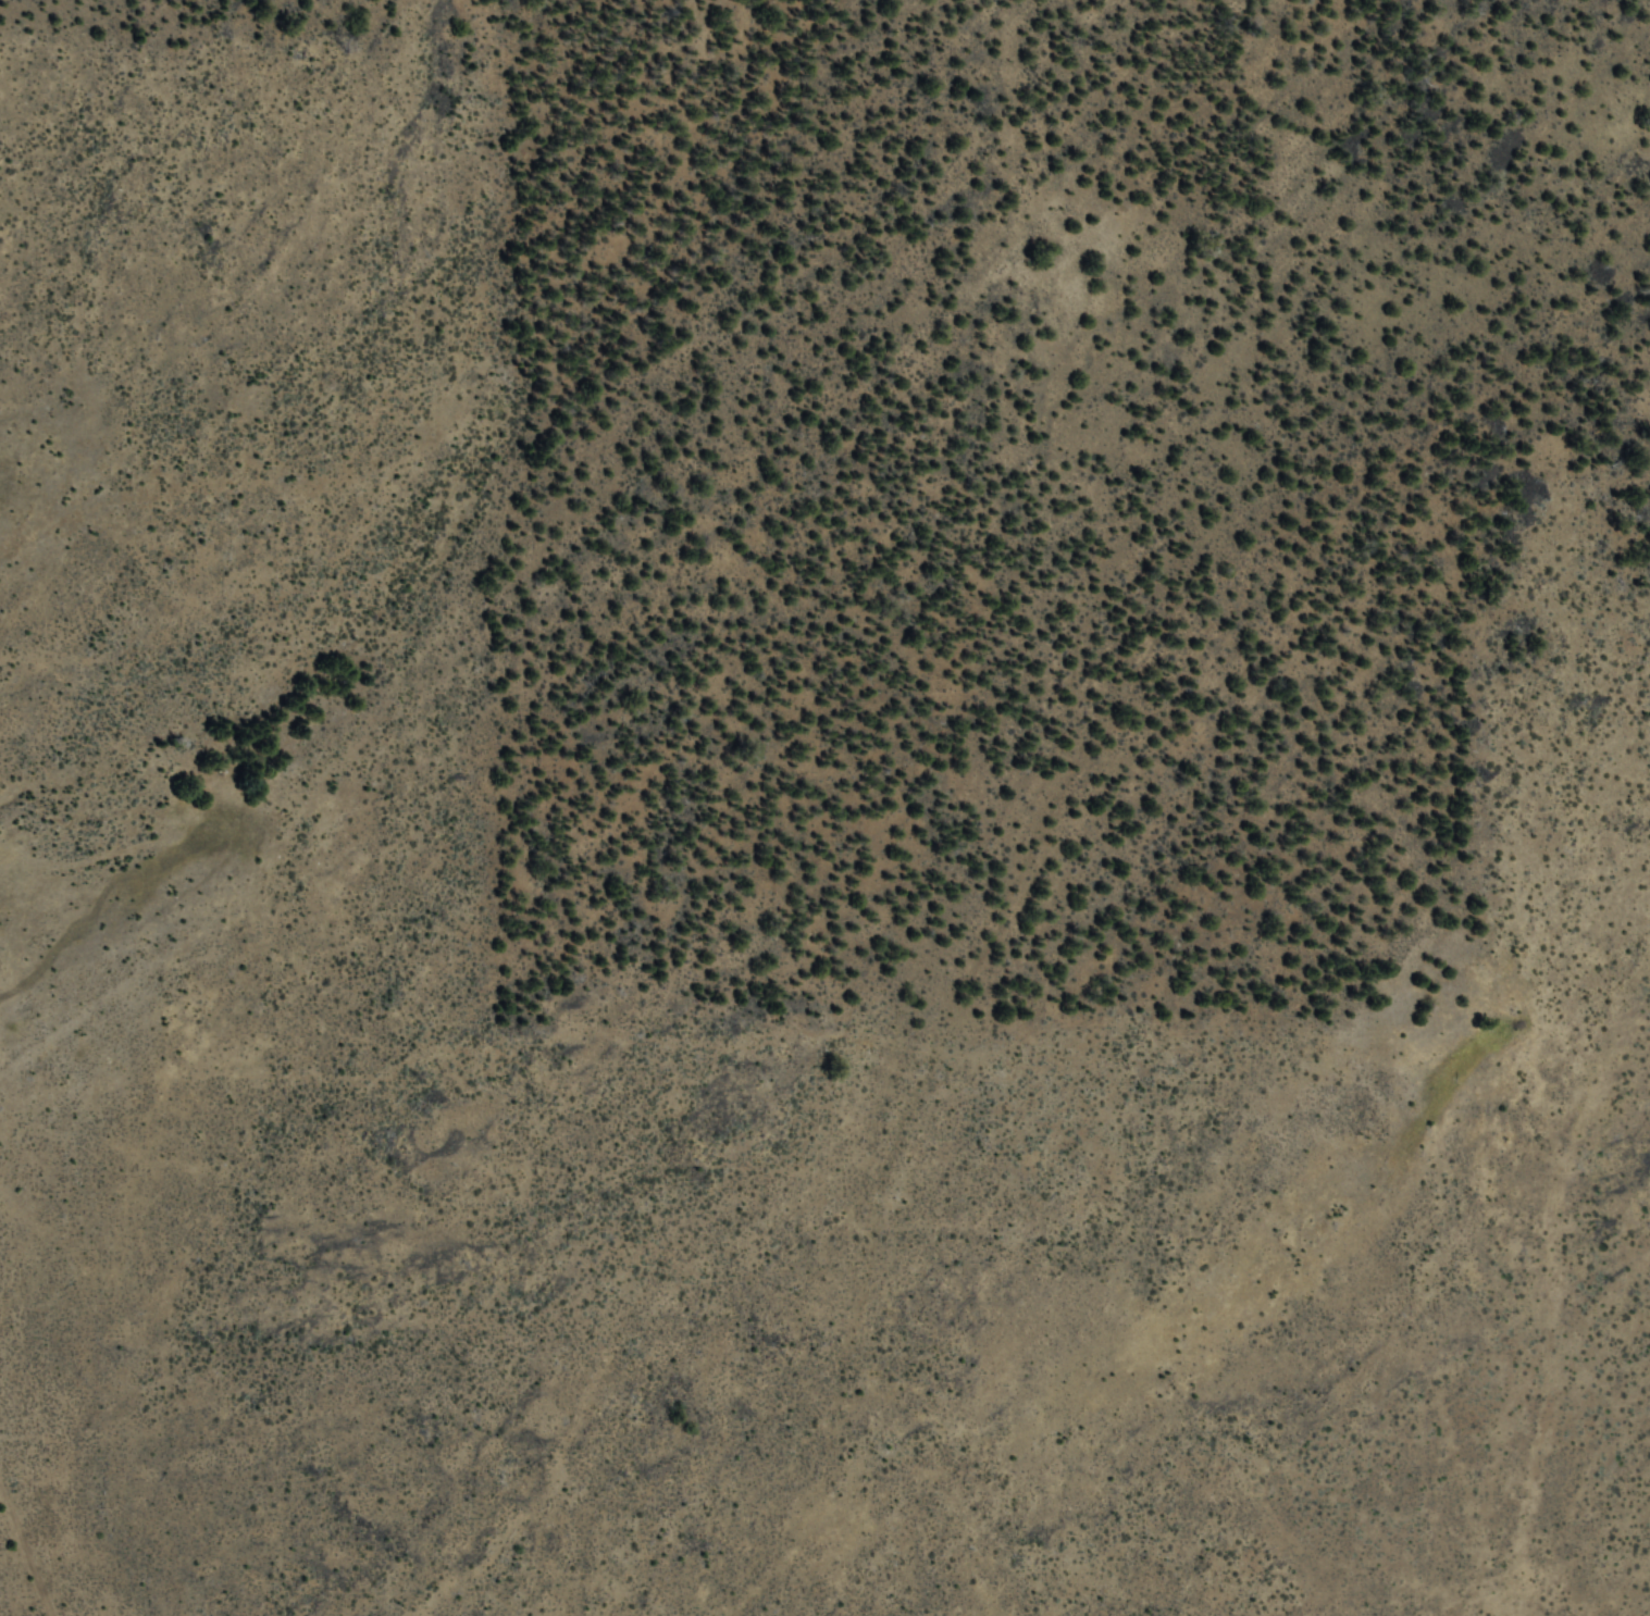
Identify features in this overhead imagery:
road: (24, 1549)

